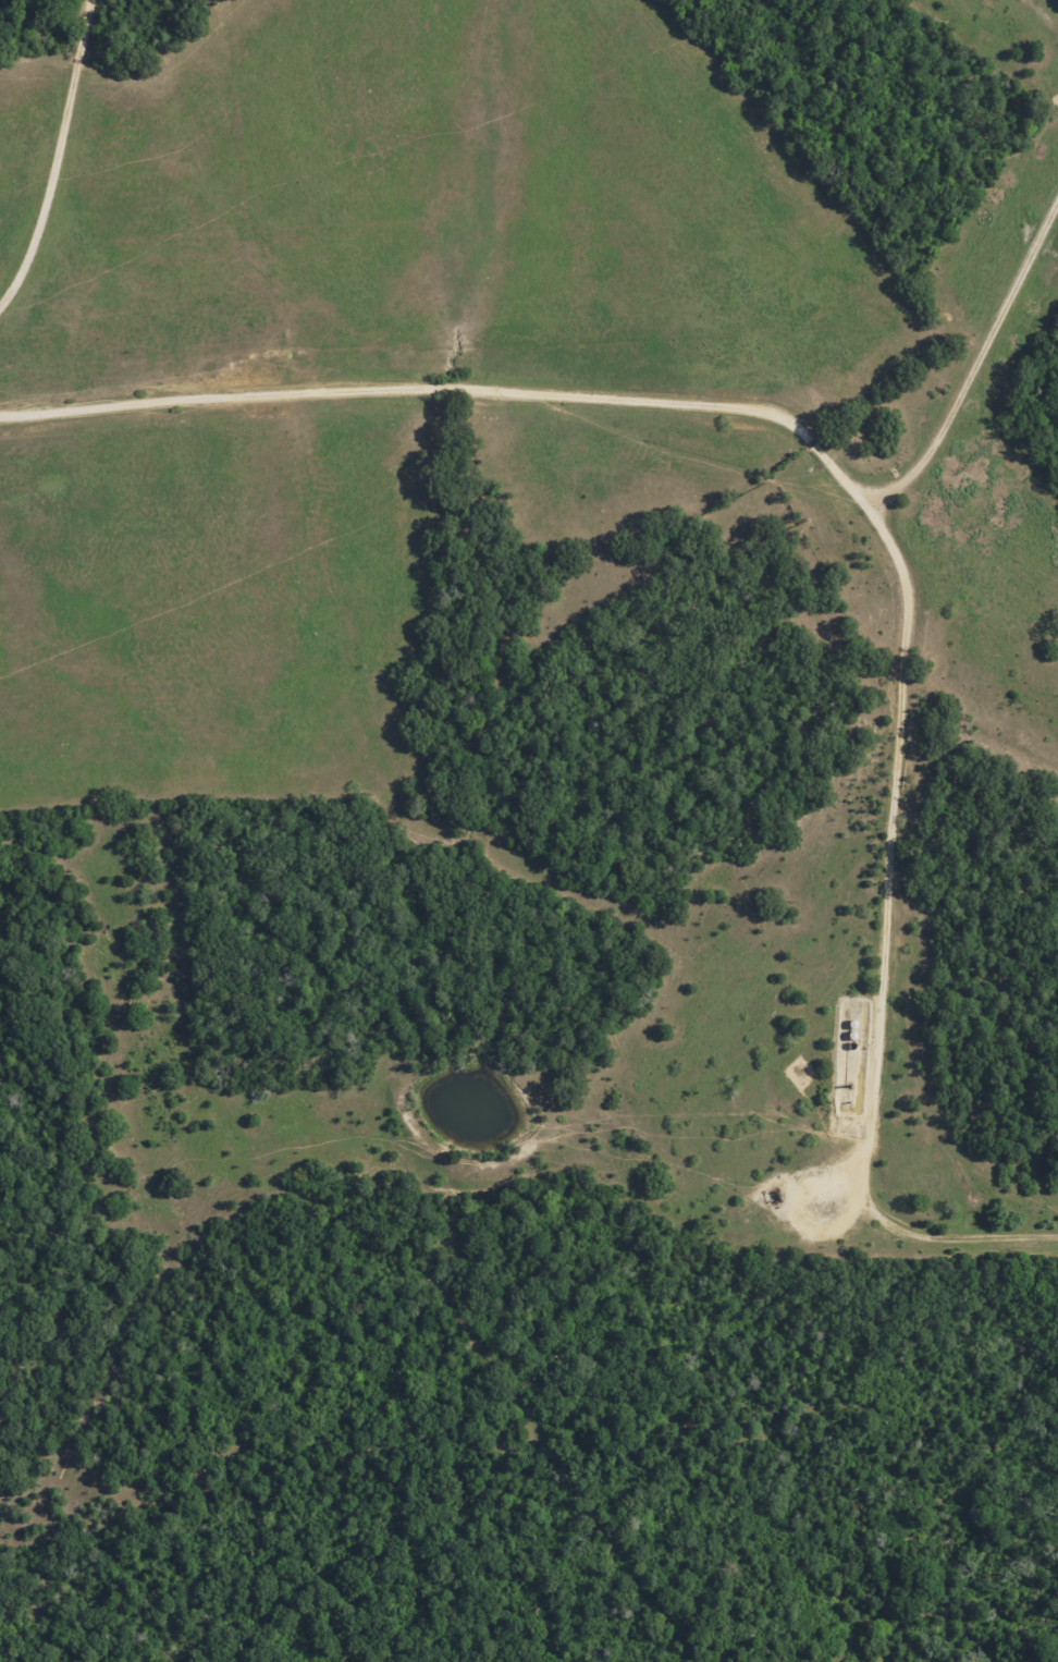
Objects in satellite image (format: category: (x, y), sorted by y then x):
petroleum well: (777, 1200)

